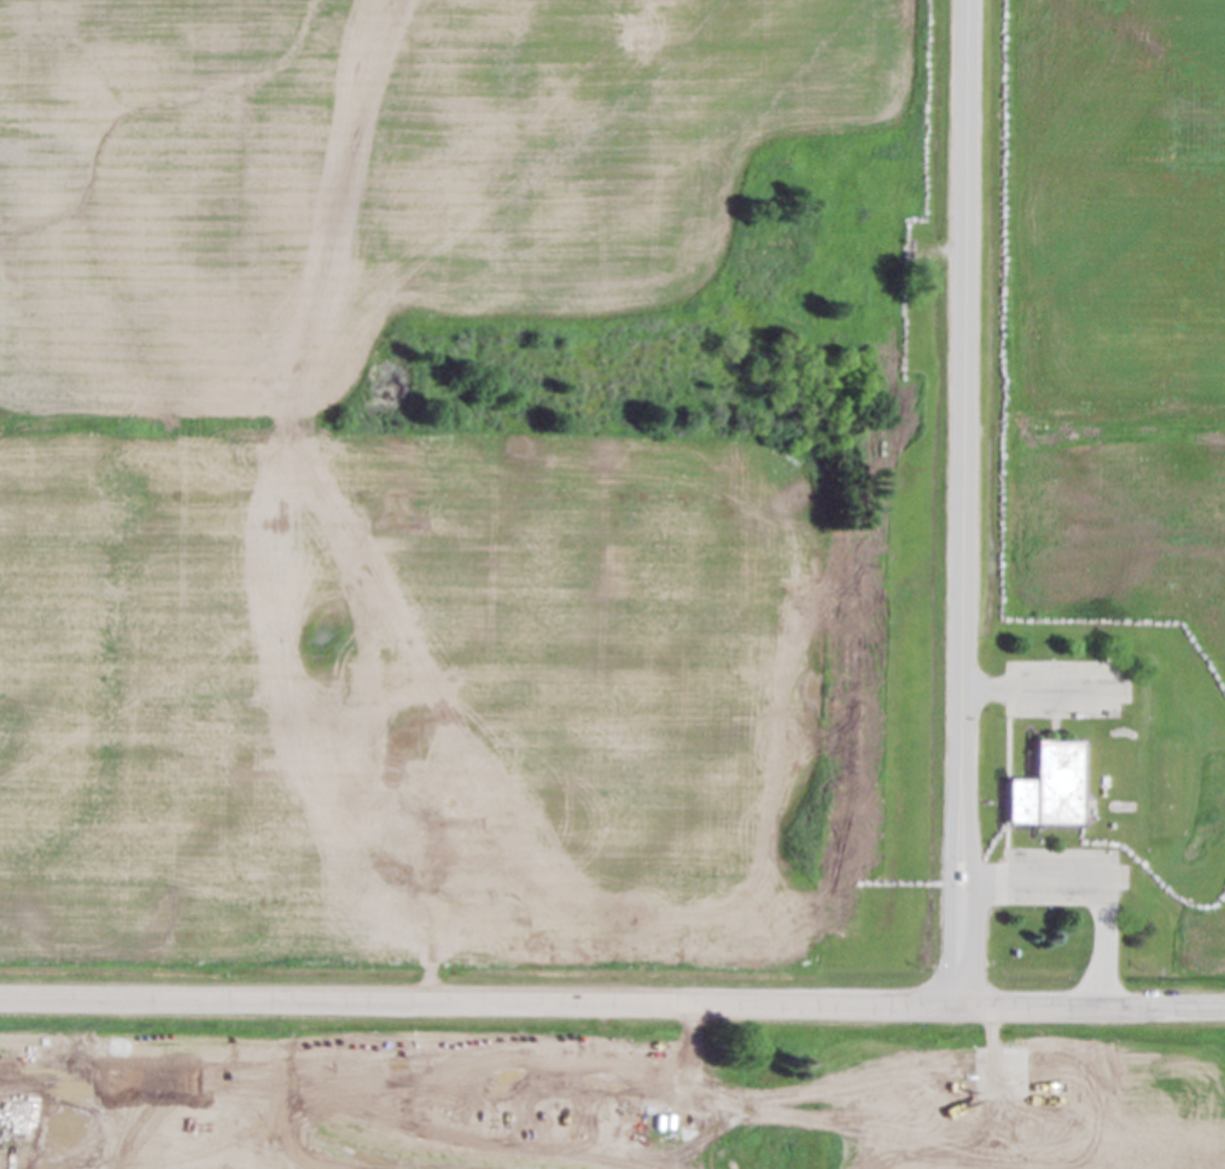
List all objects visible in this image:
road: (961, 501)
building: (1052, 788)
road: (1084, 899)
road: (612, 1001)
road: (693, 1069)

